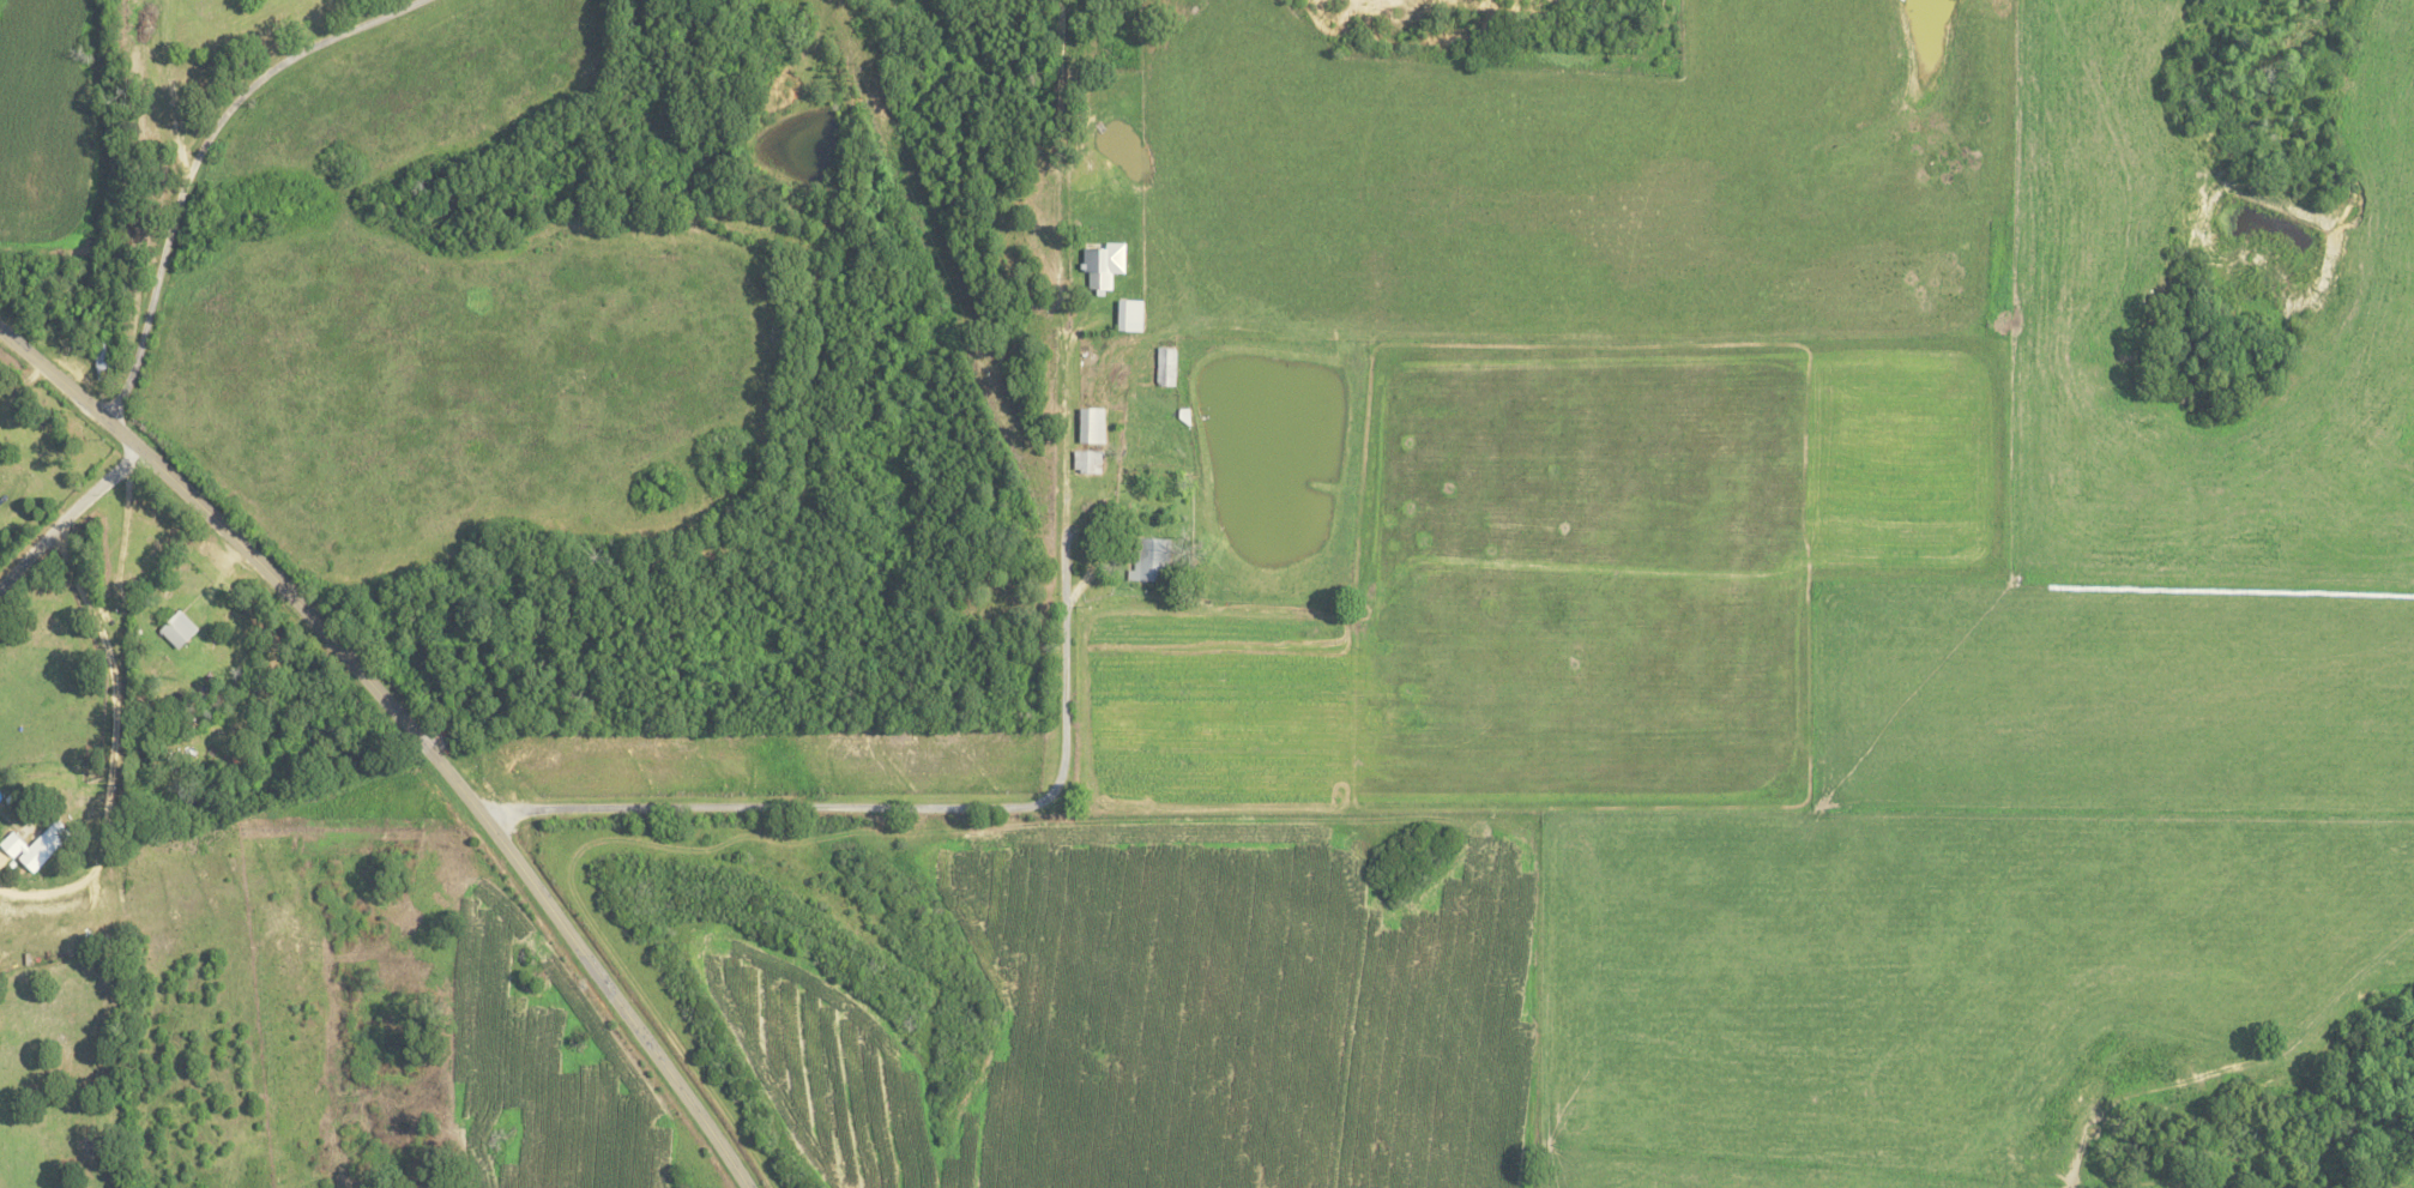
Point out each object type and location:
road: (205, 153)
building: (1099, 265)
building: (1124, 315)
building: (1088, 426)
building: (1084, 462)
road: (68, 519)
building: (1147, 560)
building: (181, 628)
road: (409, 728)
road: (916, 807)
building: (17, 843)
building: (49, 844)

